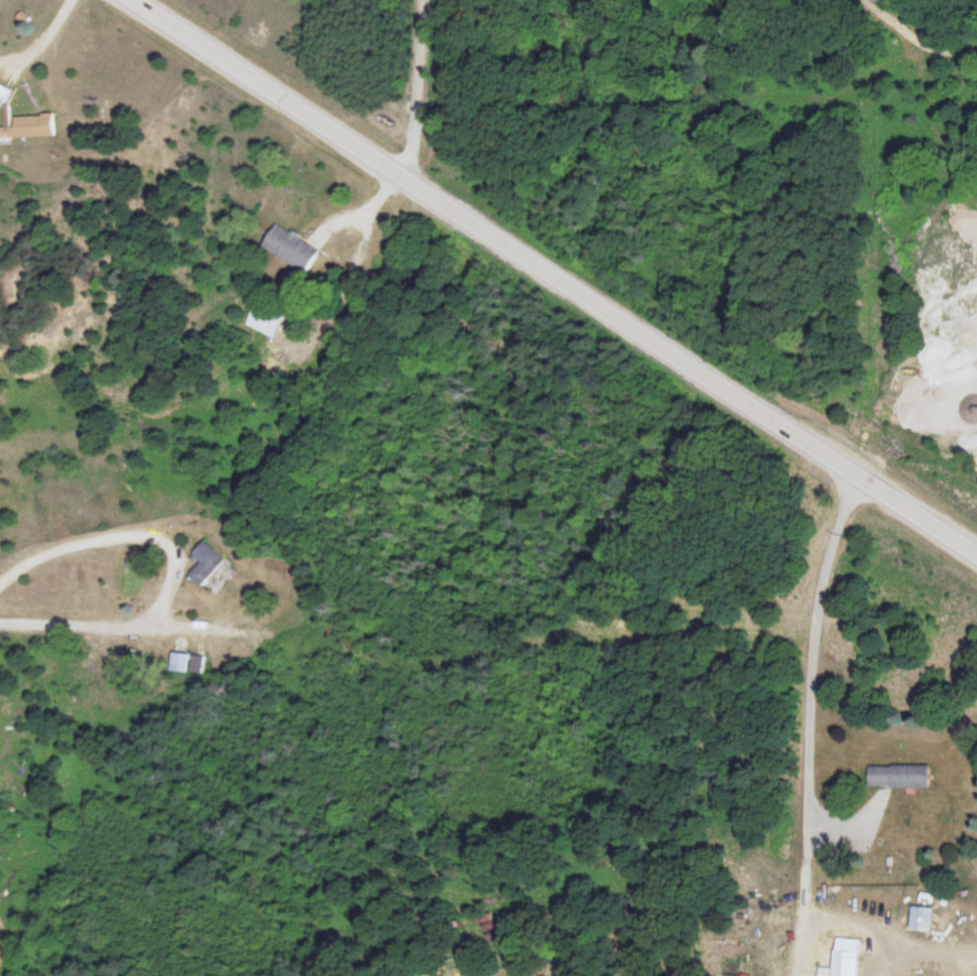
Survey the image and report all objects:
building: (4, 93)
building: (34, 124)
building: (294, 249)
road: (554, 278)
building: (268, 320)
building: (211, 565)
road: (808, 722)
building: (901, 775)
building: (489, 927)
building: (848, 957)

